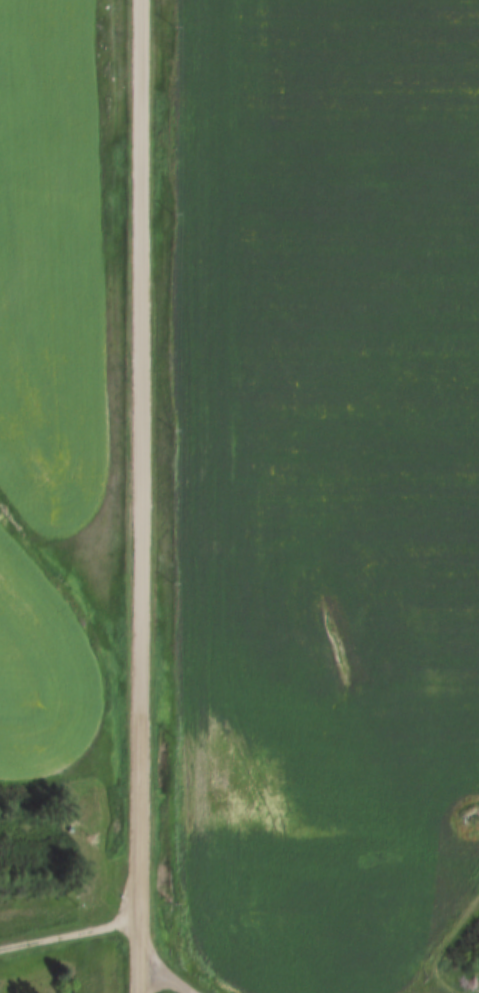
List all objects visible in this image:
road: (139, 496)
road: (70, 935)
road: (165, 980)

